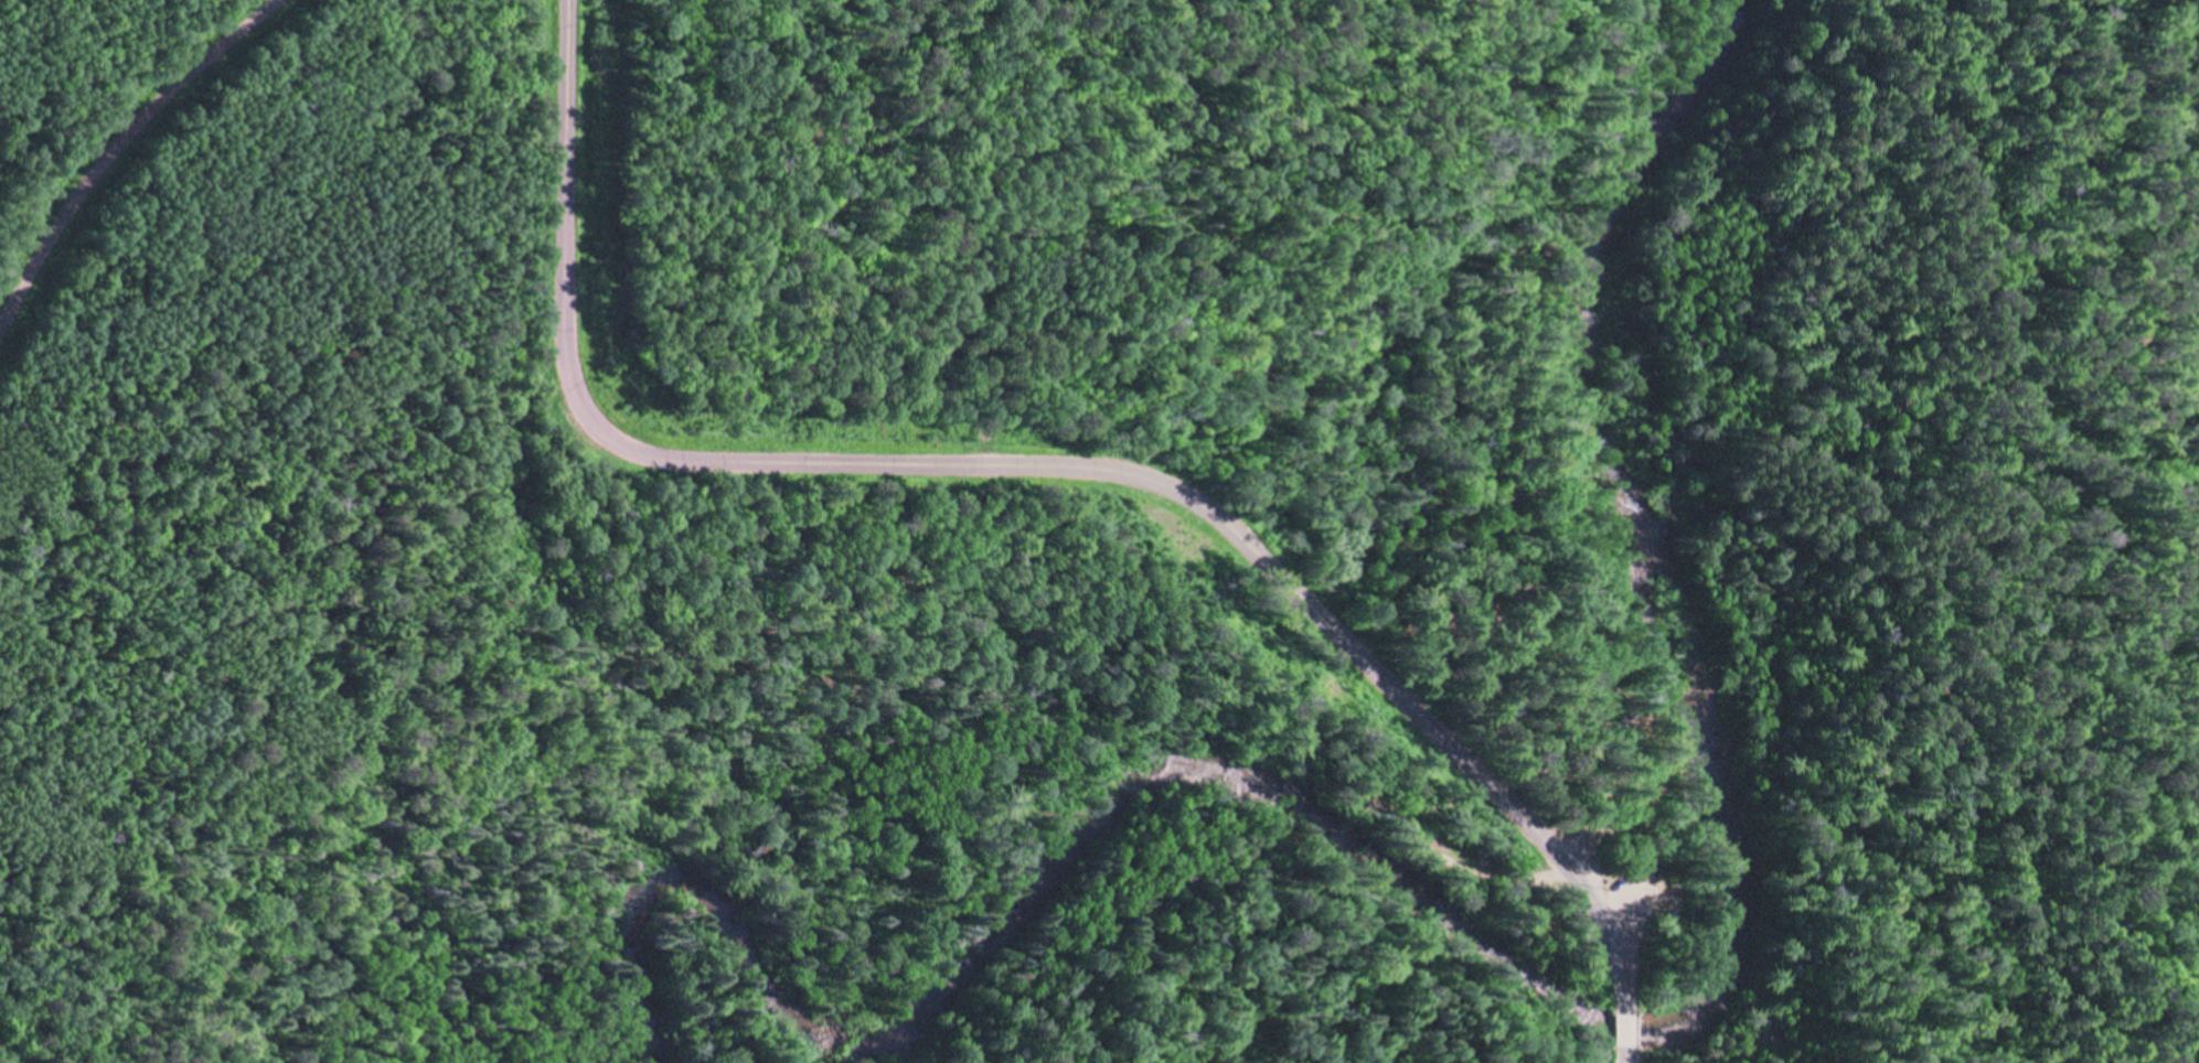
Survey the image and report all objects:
road: (116, 147)
road: (1012, 468)
park: (1088, 531)
building: (1482, 853)
road: (1623, 1032)

